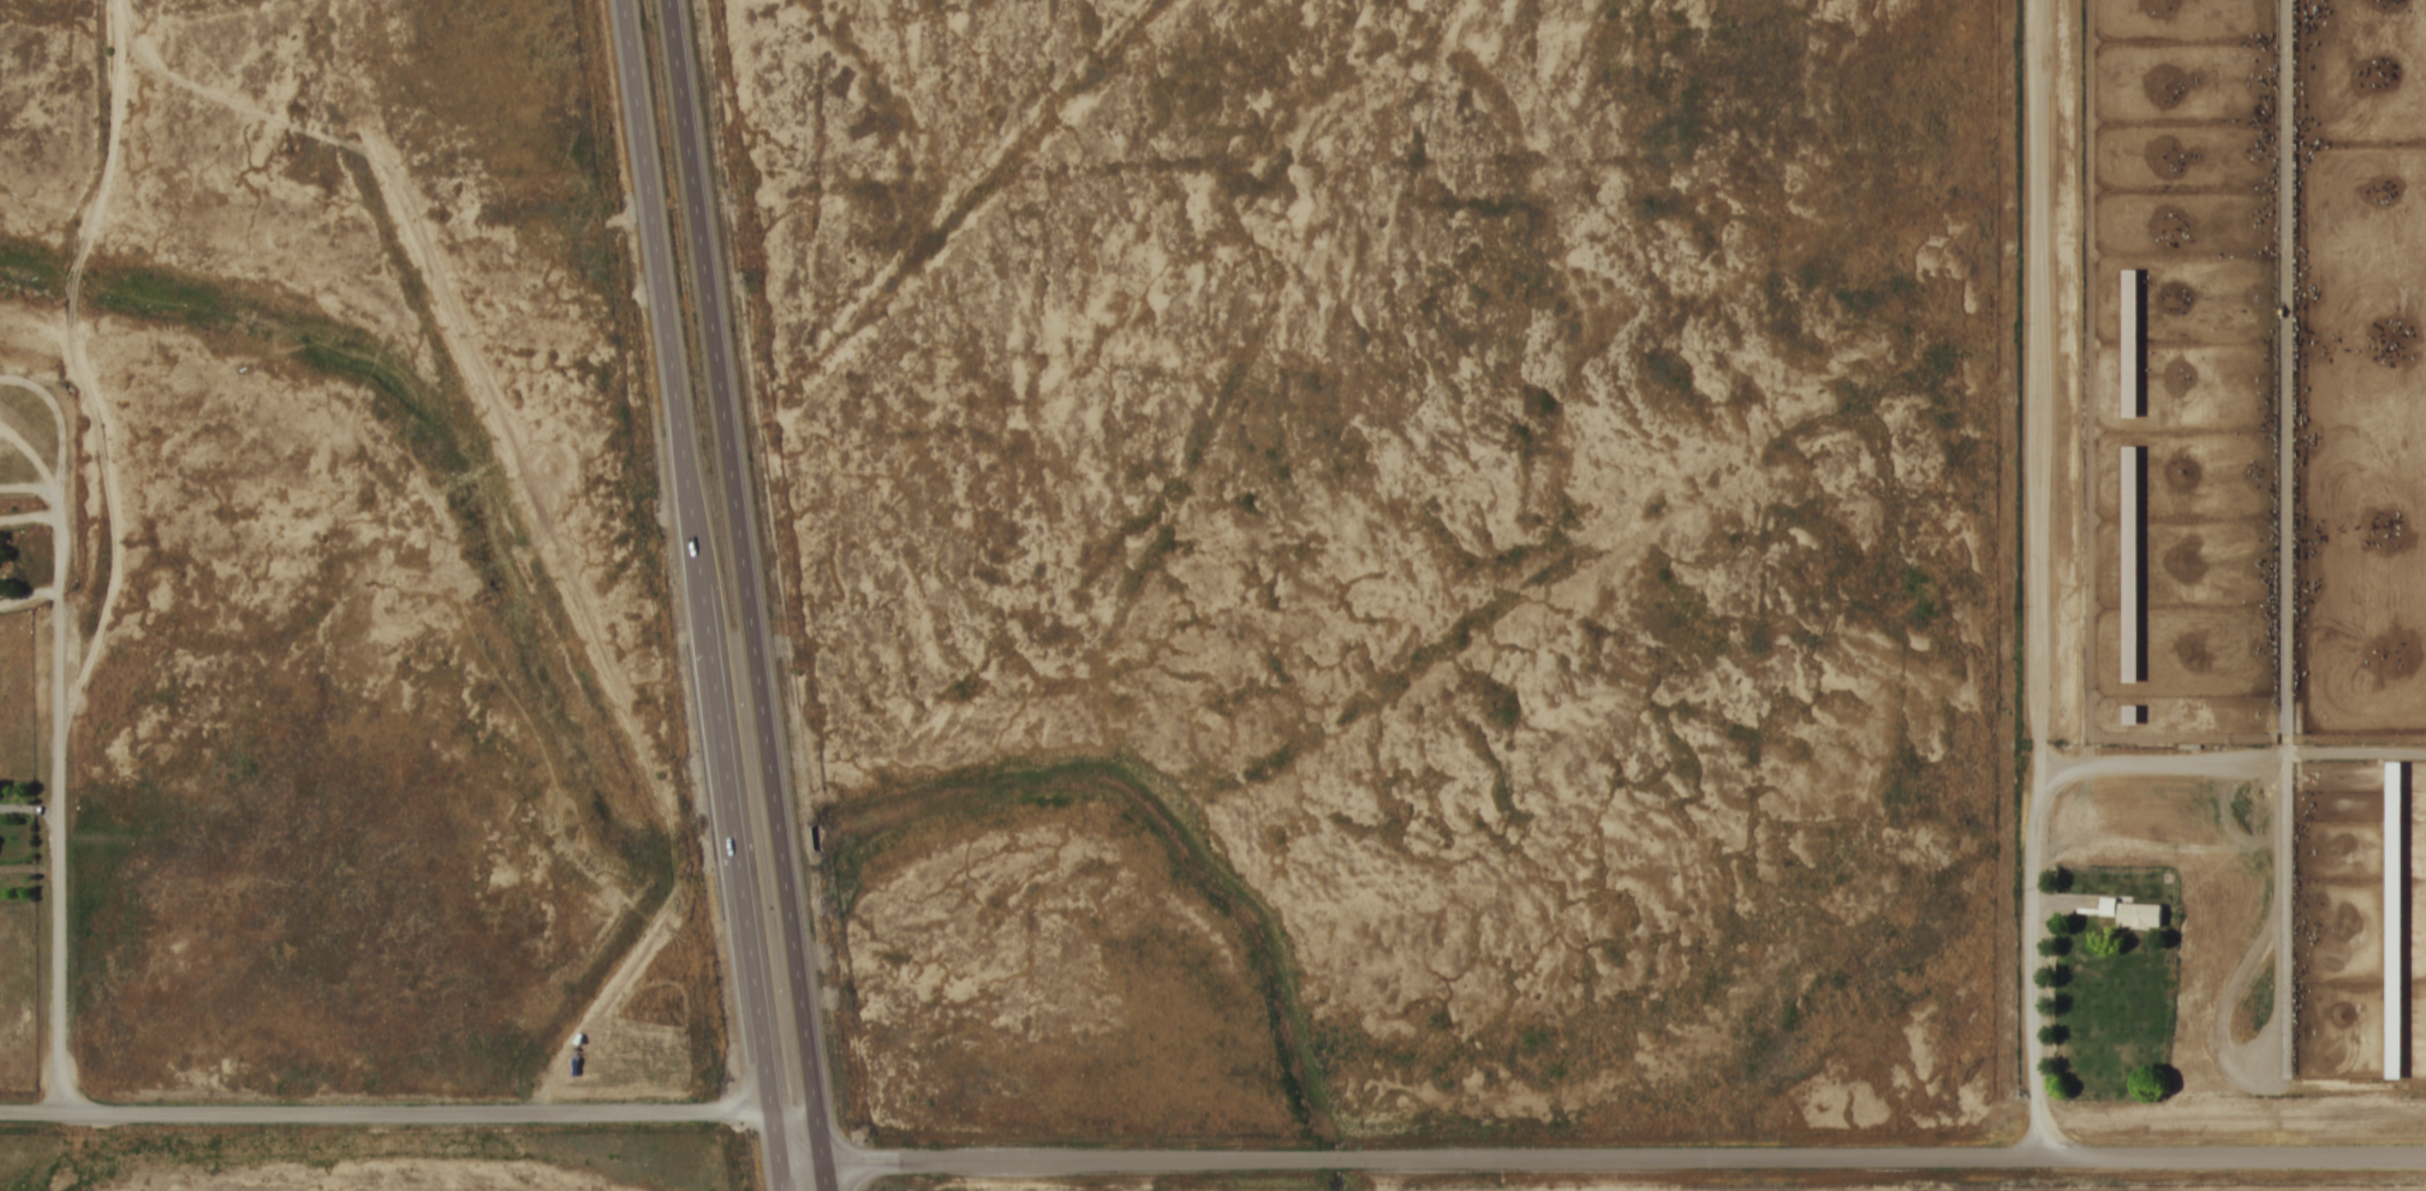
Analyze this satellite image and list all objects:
building: (2128, 340)
building: (2127, 561)
road: (699, 595)
road: (751, 595)
building: (2127, 713)
road: (61, 812)
building: (2138, 913)
building: (2391, 917)
road: (385, 1114)
road: (795, 1119)
road: (1601, 1160)

